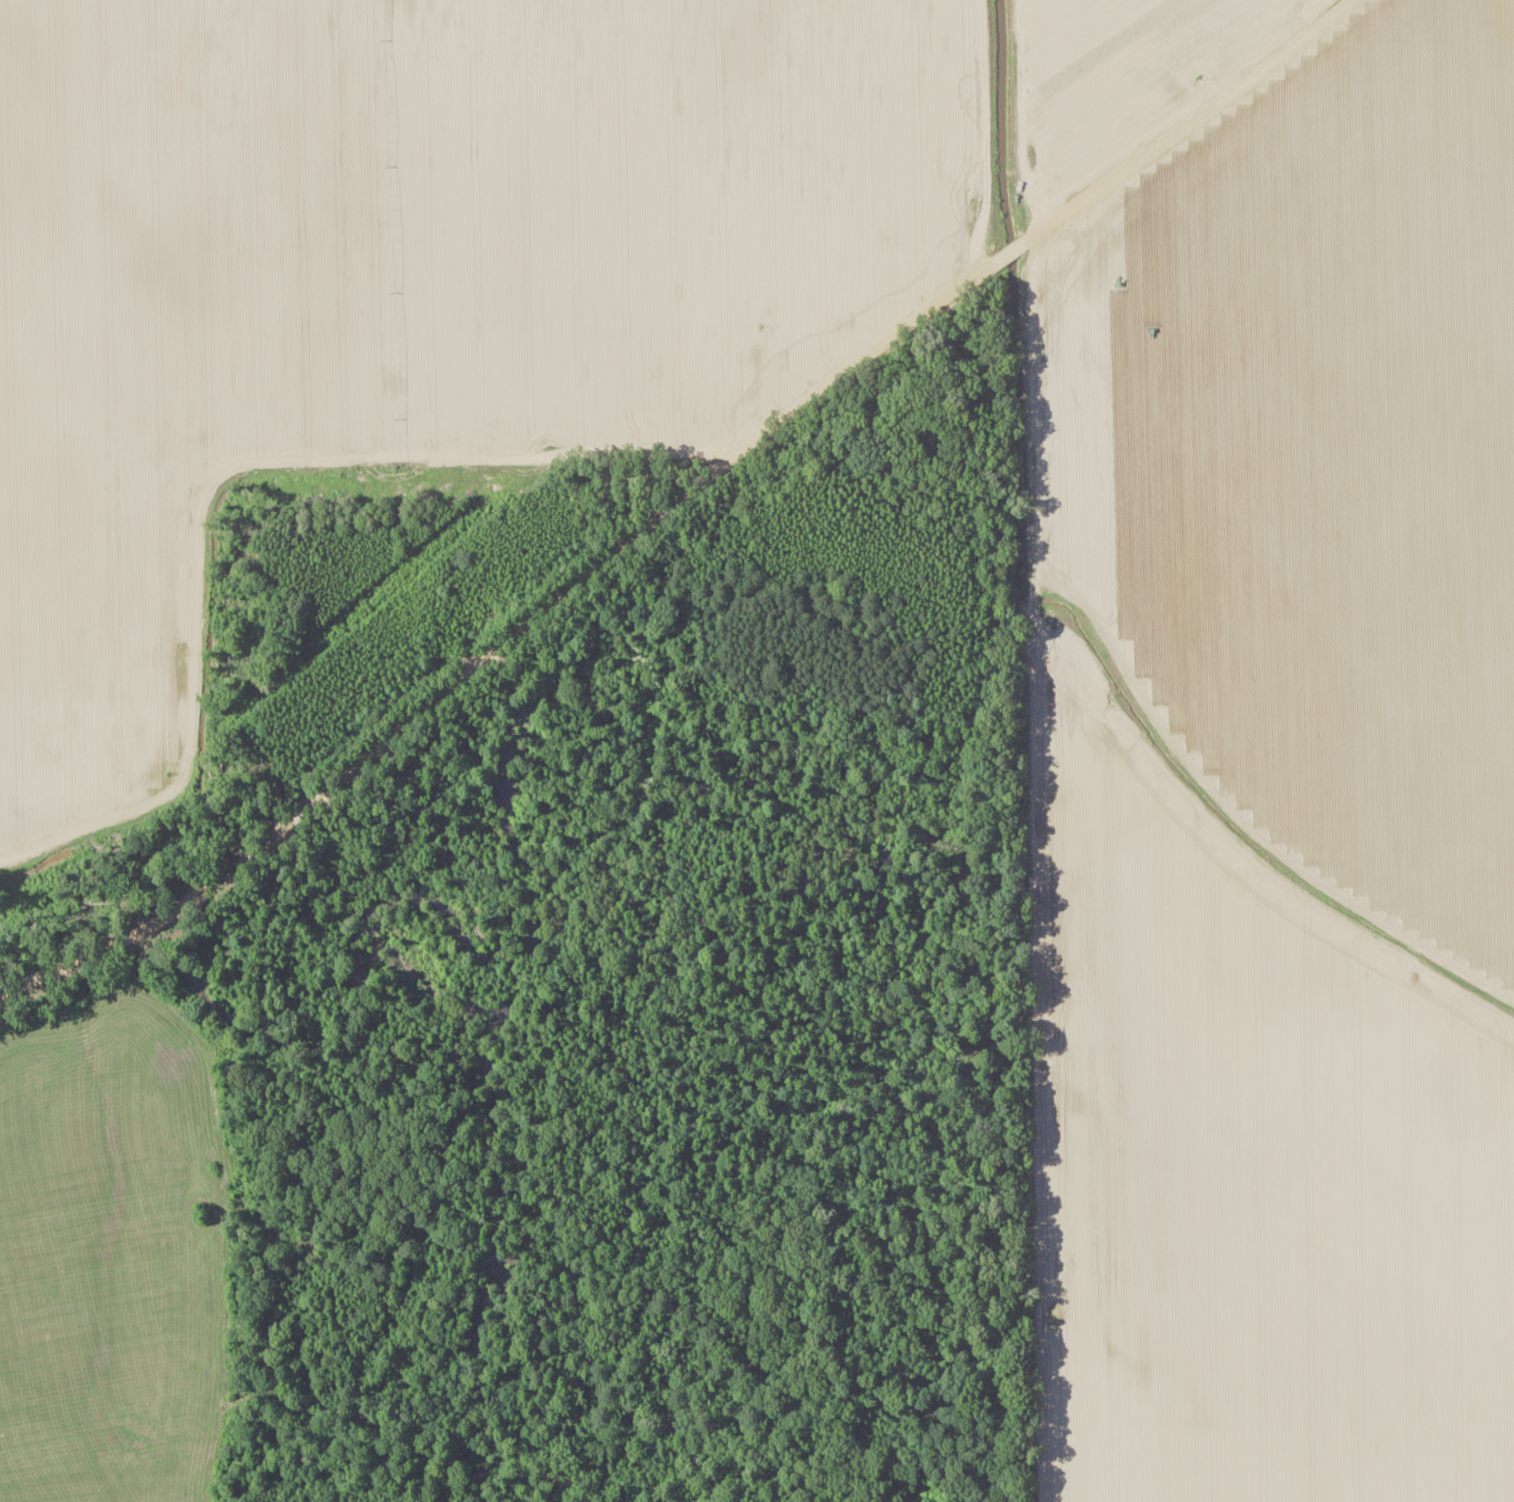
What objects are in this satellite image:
road: (637, 235)
road: (665, 501)

